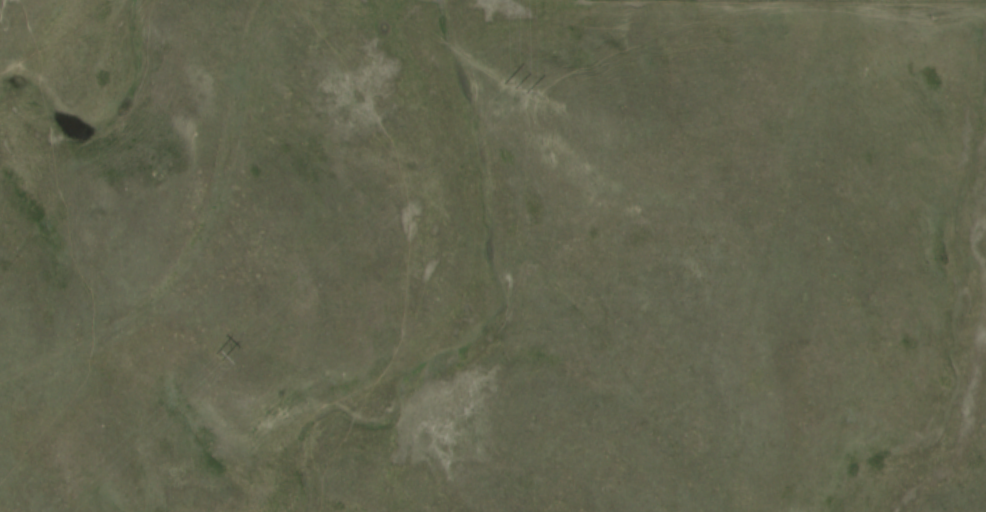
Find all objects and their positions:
power tower: (519, 89)
road: (197, 237)
power tower: (215, 356)

